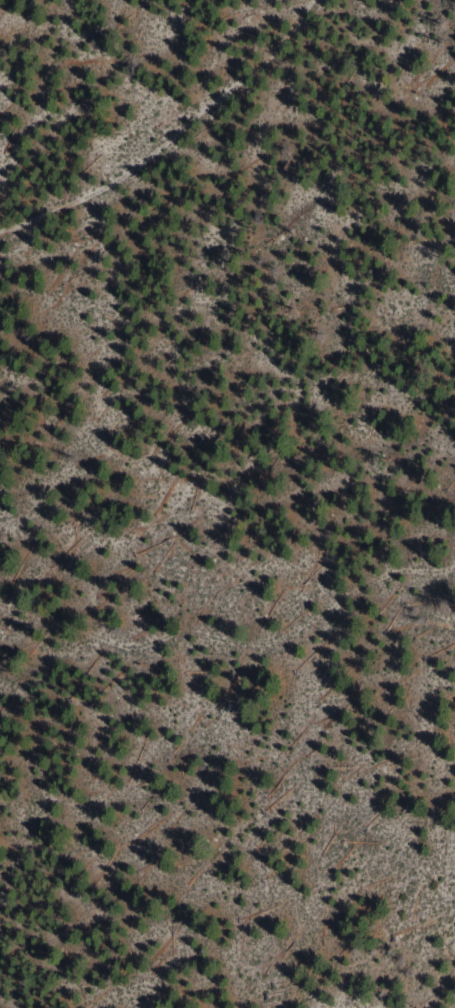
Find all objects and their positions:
road: (171, 138)

